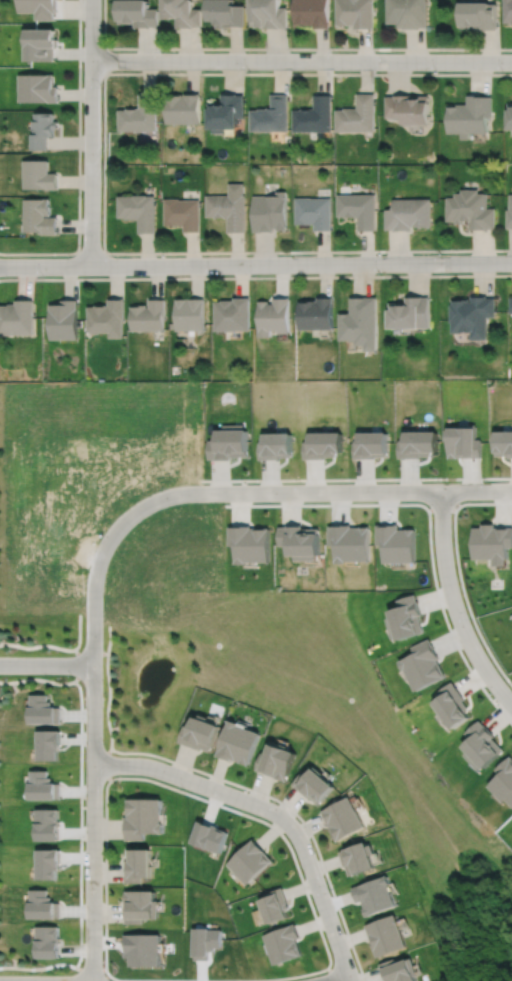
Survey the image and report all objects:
building: (39, 7)
building: (509, 10)
building: (183, 12)
building: (227, 12)
building: (313, 12)
building: (409, 12)
building: (138, 13)
building: (270, 13)
building: (357, 13)
building: (479, 14)
road: (103, 36)
building: (40, 44)
road: (307, 47)
road: (301, 60)
road: (217, 72)
street lamp: (100, 85)
building: (37, 87)
building: (182, 108)
building: (410, 108)
building: (225, 112)
building: (139, 114)
building: (271, 115)
building: (314, 115)
building: (359, 115)
building: (472, 116)
building: (511, 116)
building: (42, 129)
road: (90, 132)
road: (78, 165)
building: (39, 175)
street lamp: (81, 197)
building: (229, 207)
building: (358, 209)
building: (471, 209)
building: (139, 211)
building: (270, 212)
building: (313, 212)
building: (509, 212)
building: (183, 213)
building: (409, 214)
building: (39, 217)
road: (295, 251)
street lamp: (112, 254)
road: (255, 263)
street lamp: (42, 275)
road: (255, 276)
building: (511, 303)
building: (409, 310)
building: (316, 311)
building: (188, 312)
building: (231, 312)
building: (147, 313)
building: (471, 313)
building: (273, 314)
building: (17, 315)
building: (105, 315)
building: (62, 318)
building: (360, 320)
building: (461, 440)
building: (227, 441)
building: (416, 441)
building: (502, 441)
building: (321, 442)
building: (369, 443)
building: (274, 444)
road: (356, 478)
road: (191, 492)
road: (440, 508)
road: (429, 524)
building: (299, 540)
building: (349, 541)
building: (249, 542)
building: (396, 542)
building: (491, 542)
road: (458, 574)
road: (454, 604)
building: (404, 617)
road: (55, 646)
road: (105, 652)
building: (422, 664)
road: (53, 681)
building: (450, 705)
building: (198, 734)
building: (236, 743)
building: (481, 745)
building: (275, 761)
road: (209, 773)
building: (503, 781)
building: (313, 785)
road: (273, 811)
building: (143, 818)
building: (342, 819)
road: (92, 822)
building: (358, 859)
building: (250, 862)
building: (138, 865)
building: (377, 892)
building: (275, 906)
building: (140, 907)
road: (317, 926)
building: (387, 932)
building: (282, 944)
road: (350, 944)
road: (40, 967)
building: (401, 969)
road: (330, 973)
road: (338, 977)

